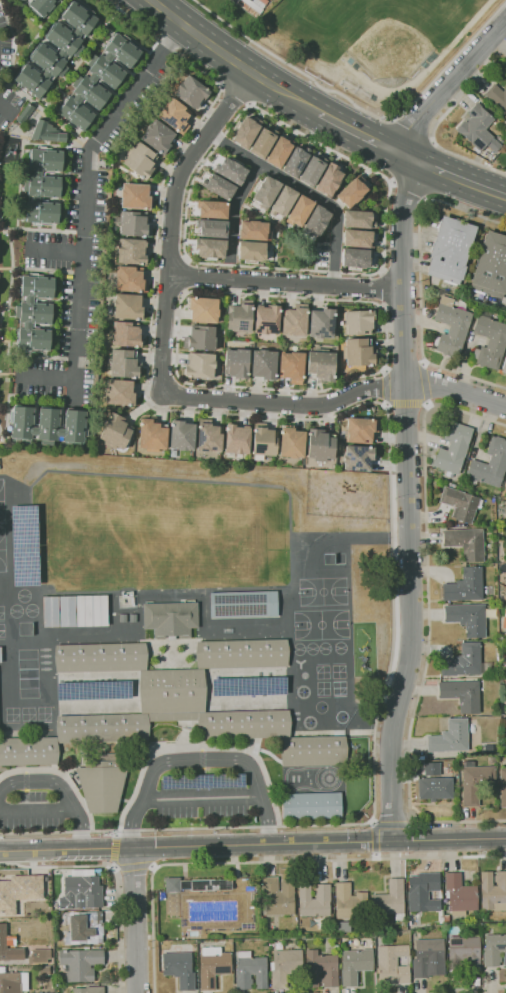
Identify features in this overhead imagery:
building: (20, 0)
building: (43, 6)
park: (391, 49)
building: (57, 50)
road: (230, 59)
building: (98, 81)
road: (447, 87)
building: (192, 92)
road: (234, 94)
building: (497, 96)
road: (360, 107)
road: (5, 109)
building: (26, 114)
building: (175, 116)
road: (438, 121)
building: (11, 127)
building: (479, 129)
building: (246, 131)
road: (353, 131)
road: (408, 131)
building: (45, 132)
building: (158, 136)
building: (263, 142)
building: (280, 151)
building: (140, 160)
building: (296, 161)
building: (231, 170)
building: (313, 170)
road: (450, 176)
building: (330, 180)
building: (44, 185)
building: (219, 186)
road: (411, 189)
road: (305, 190)
building: (266, 191)
building: (352, 192)
building: (136, 196)
building: (283, 201)
road: (233, 208)
building: (213, 209)
building: (300, 211)
road: (86, 216)
building: (358, 219)
building: (135, 224)
building: (316, 224)
building: (213, 228)
building: (254, 230)
building: (358, 238)
building: (211, 248)
building: (451, 249)
road: (55, 251)
building: (132, 251)
building: (253, 251)
building: (356, 258)
building: (491, 266)
road: (323, 271)
road: (184, 276)
building: (131, 279)
road: (285, 282)
road: (420, 283)
road: (384, 289)
building: (128, 306)
building: (204, 309)
building: (36, 313)
building: (240, 317)
building: (267, 319)
building: (295, 320)
building: (359, 321)
building: (322, 323)
building: (451, 327)
building: (126, 334)
building: (201, 338)
building: (490, 341)
road: (163, 343)
building: (359, 352)
building: (123, 363)
building: (237, 363)
building: (264, 364)
building: (200, 365)
building: (321, 365)
building: (292, 366)
building: (504, 368)
road: (371, 374)
road: (423, 383)
road: (385, 387)
road: (456, 391)
building: (120, 392)
road: (406, 403)
road: (425, 403)
road: (388, 404)
building: (48, 425)
building: (362, 430)
building: (116, 432)
building: (152, 435)
building: (182, 435)
building: (209, 436)
building: (237, 439)
building: (264, 441)
road: (389, 442)
building: (292, 443)
building: (321, 445)
building: (453, 448)
building: (358, 457)
building: (490, 464)
building: (505, 487)
road: (408, 502)
building: (460, 504)
building: (466, 542)
building: (465, 586)
building: (242, 604)
building: (90, 610)
building: (49, 611)
building: (66, 611)
building: (171, 618)
road: (428, 618)
building: (468, 618)
building: (504, 623)
building: (0, 660)
building: (465, 661)
building: (462, 694)
building: (175, 704)
building: (450, 737)
road: (199, 748)
building: (488, 749)
road: (201, 758)
road: (201, 758)
building: (493, 760)
building: (430, 768)
road: (62, 774)
building: (475, 782)
building: (102, 783)
road: (25, 785)
road: (62, 787)
building: (435, 788)
building: (503, 788)
road: (203, 795)
parking lot: (200, 805)
building: (310, 805)
road: (37, 807)
parking lot: (33, 811)
road: (377, 822)
road: (115, 832)
road: (253, 845)
road: (375, 855)
road: (266, 860)
road: (117, 866)
road: (152, 866)
road: (114, 867)
road: (113, 874)
building: (19, 891)
building: (424, 891)
building: (493, 891)
building: (81, 892)
building: (460, 893)
building: (278, 897)
building: (315, 900)
building: (390, 900)
building: (350, 902)
building: (173, 906)
road: (135, 920)
building: (84, 928)
building: (193, 934)
building: (3, 935)
building: (60, 945)
building: (494, 950)
building: (465, 952)
building: (39, 955)
building: (428, 958)
building: (81, 963)
building: (393, 964)
building: (355, 965)
building: (213, 966)
building: (285, 966)
building: (180, 969)
building: (321, 969)
building: (45, 970)
building: (251, 971)
building: (13, 982)
road: (472, 988)
building: (89, 990)

